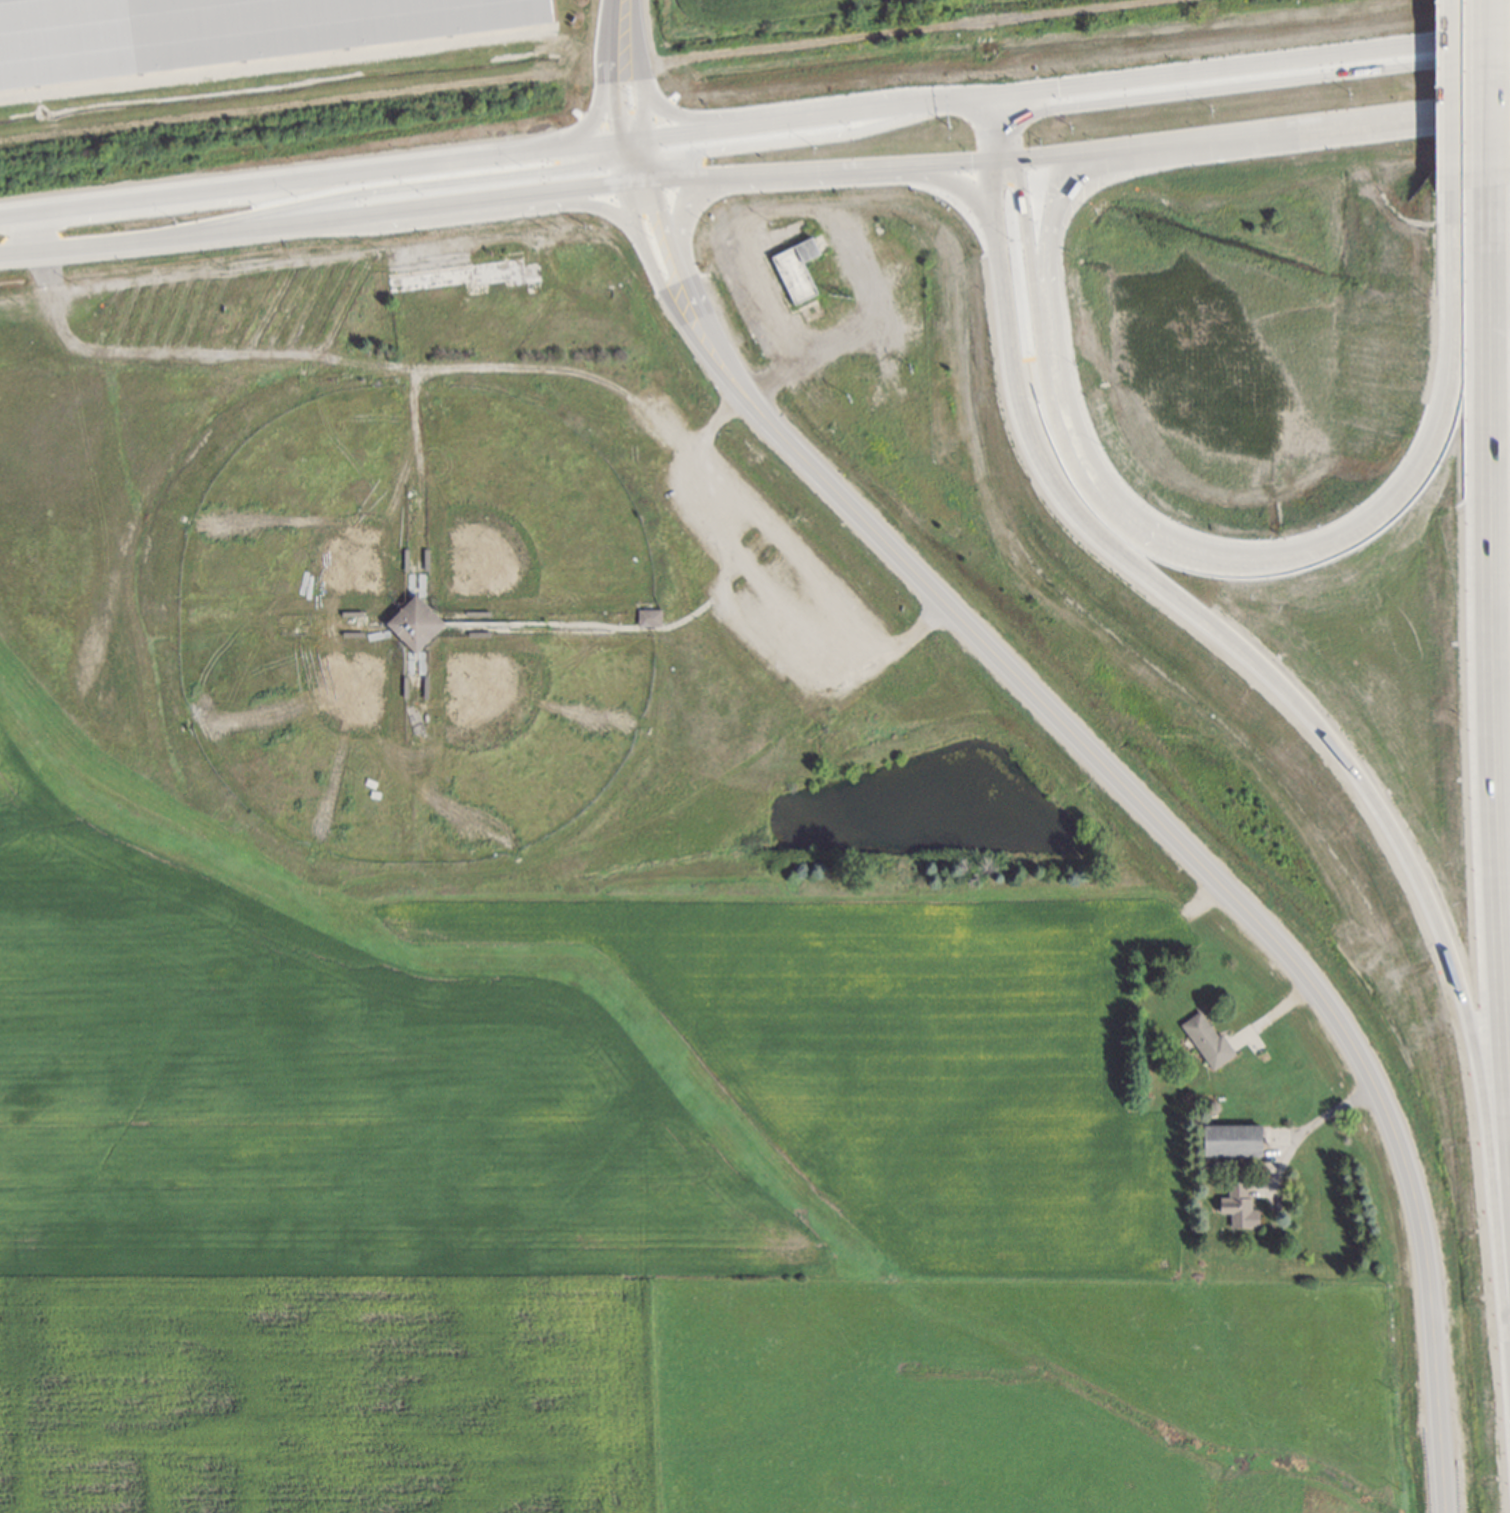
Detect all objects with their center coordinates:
building: (221, 30)
road: (636, 40)
road: (1241, 63)
road: (611, 69)
road: (1258, 82)
road: (1482, 84)
traffic signals: (1058, 86)
road: (1452, 89)
road: (600, 97)
road: (960, 97)
road: (991, 103)
traffic signals: (1060, 107)
road: (776, 109)
road: (643, 110)
road: (796, 118)
road: (992, 135)
road: (1262, 135)
road: (1010, 137)
road: (800, 138)
road: (633, 139)
road: (634, 147)
road: (621, 148)
road: (647, 148)
road: (1000, 158)
traffic signals: (971, 160)
road: (847, 165)
road: (625, 168)
road: (636, 168)
road: (649, 168)
road: (916, 176)
road: (679, 177)
road: (309, 178)
road: (639, 180)
road: (407, 186)
road: (990, 187)
traffic signals: (1021, 194)
road: (474, 213)
road: (785, 214)
road: (314, 219)
road: (34, 231)
road: (683, 237)
road: (305, 254)
building: (798, 272)
road: (683, 284)
road: (664, 291)
road: (1054, 293)
road: (353, 360)
park: (522, 512)
park: (297, 515)
road: (1238, 554)
road: (769, 581)
parking lot: (781, 586)
building: (650, 617)
building: (409, 623)
road: (1492, 646)
park: (300, 732)
park: (521, 733)
road: (1332, 734)
road: (1221, 881)
building: (1208, 1040)
road: (1313, 1122)
building: (1234, 1140)
building: (1240, 1206)

